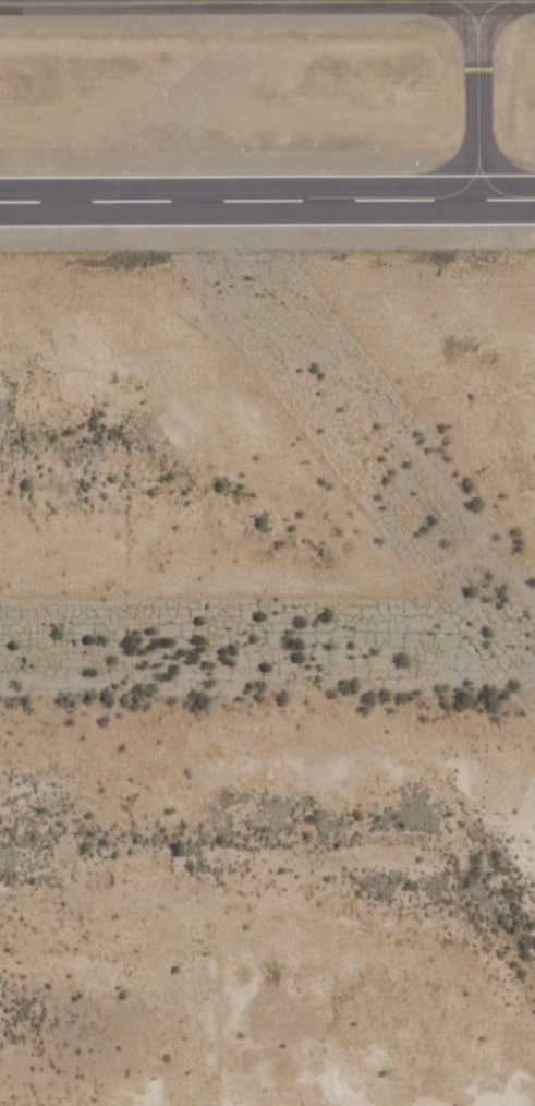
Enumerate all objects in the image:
airport taxiway: (83, 0)
airport taxiway: (479, 99)
airport runway: (267, 201)

